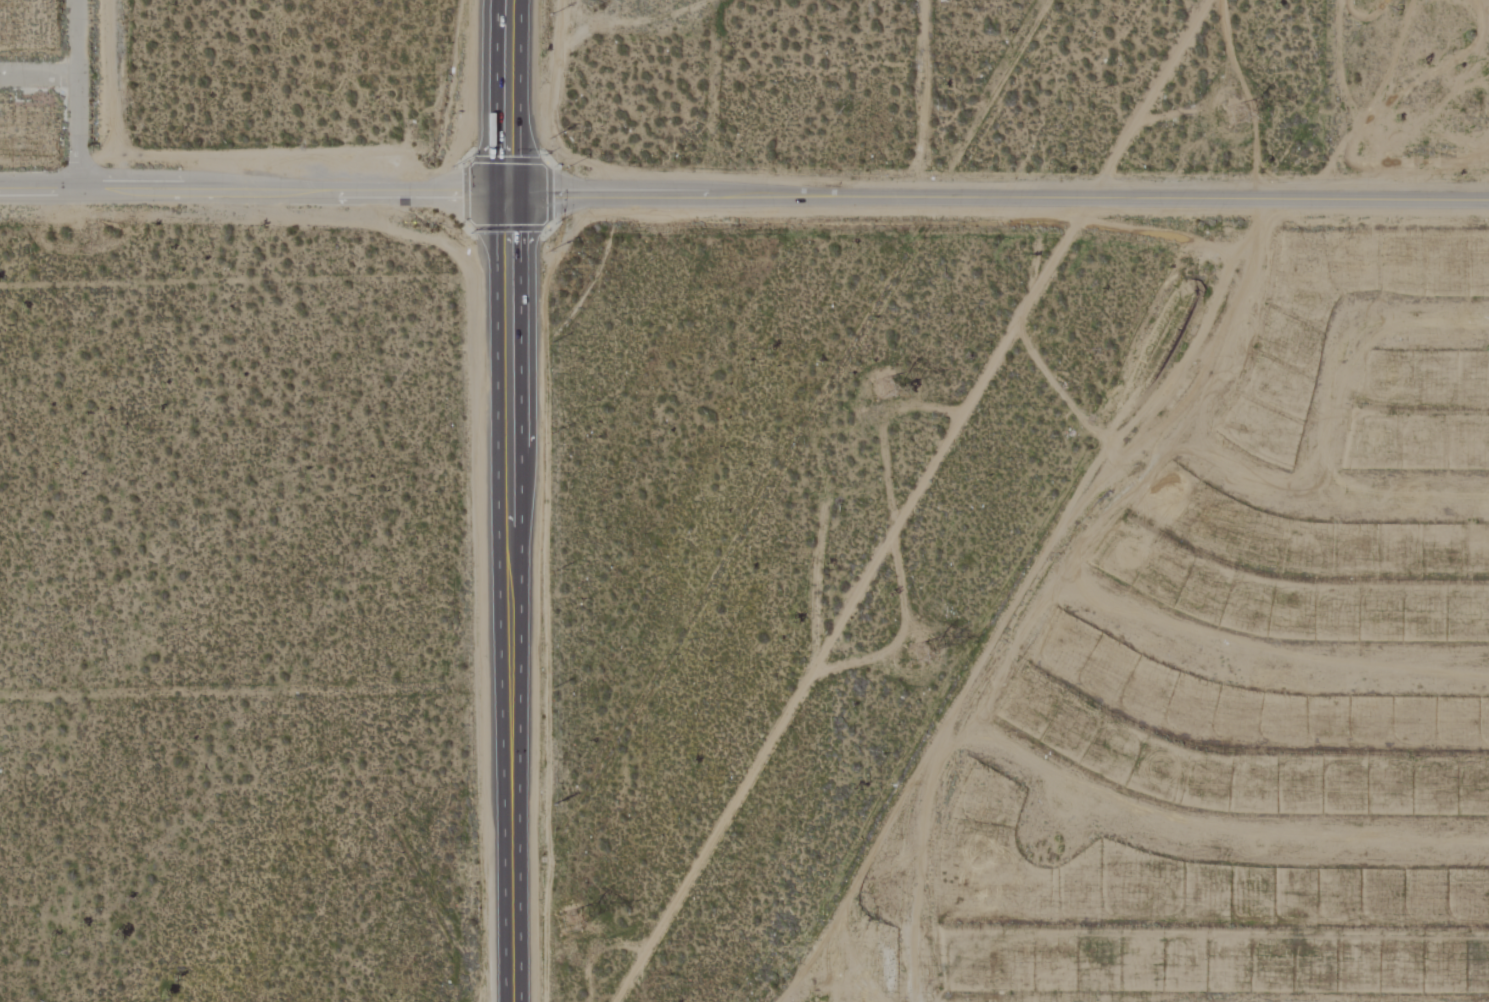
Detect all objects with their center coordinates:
road: (39, 75)
road: (79, 96)
power tower: (1239, 104)
traffic signals: (502, 187)
road: (251, 189)
road: (995, 204)
road: (504, 280)
road: (1429, 327)
power tower: (889, 396)
road: (1337, 410)
road: (1325, 499)
road: (916, 500)
road: (1046, 582)
power tower: (908, 650)
road: (1260, 664)
road: (515, 781)
road: (1060, 817)
road: (1212, 840)
power tower: (576, 913)

